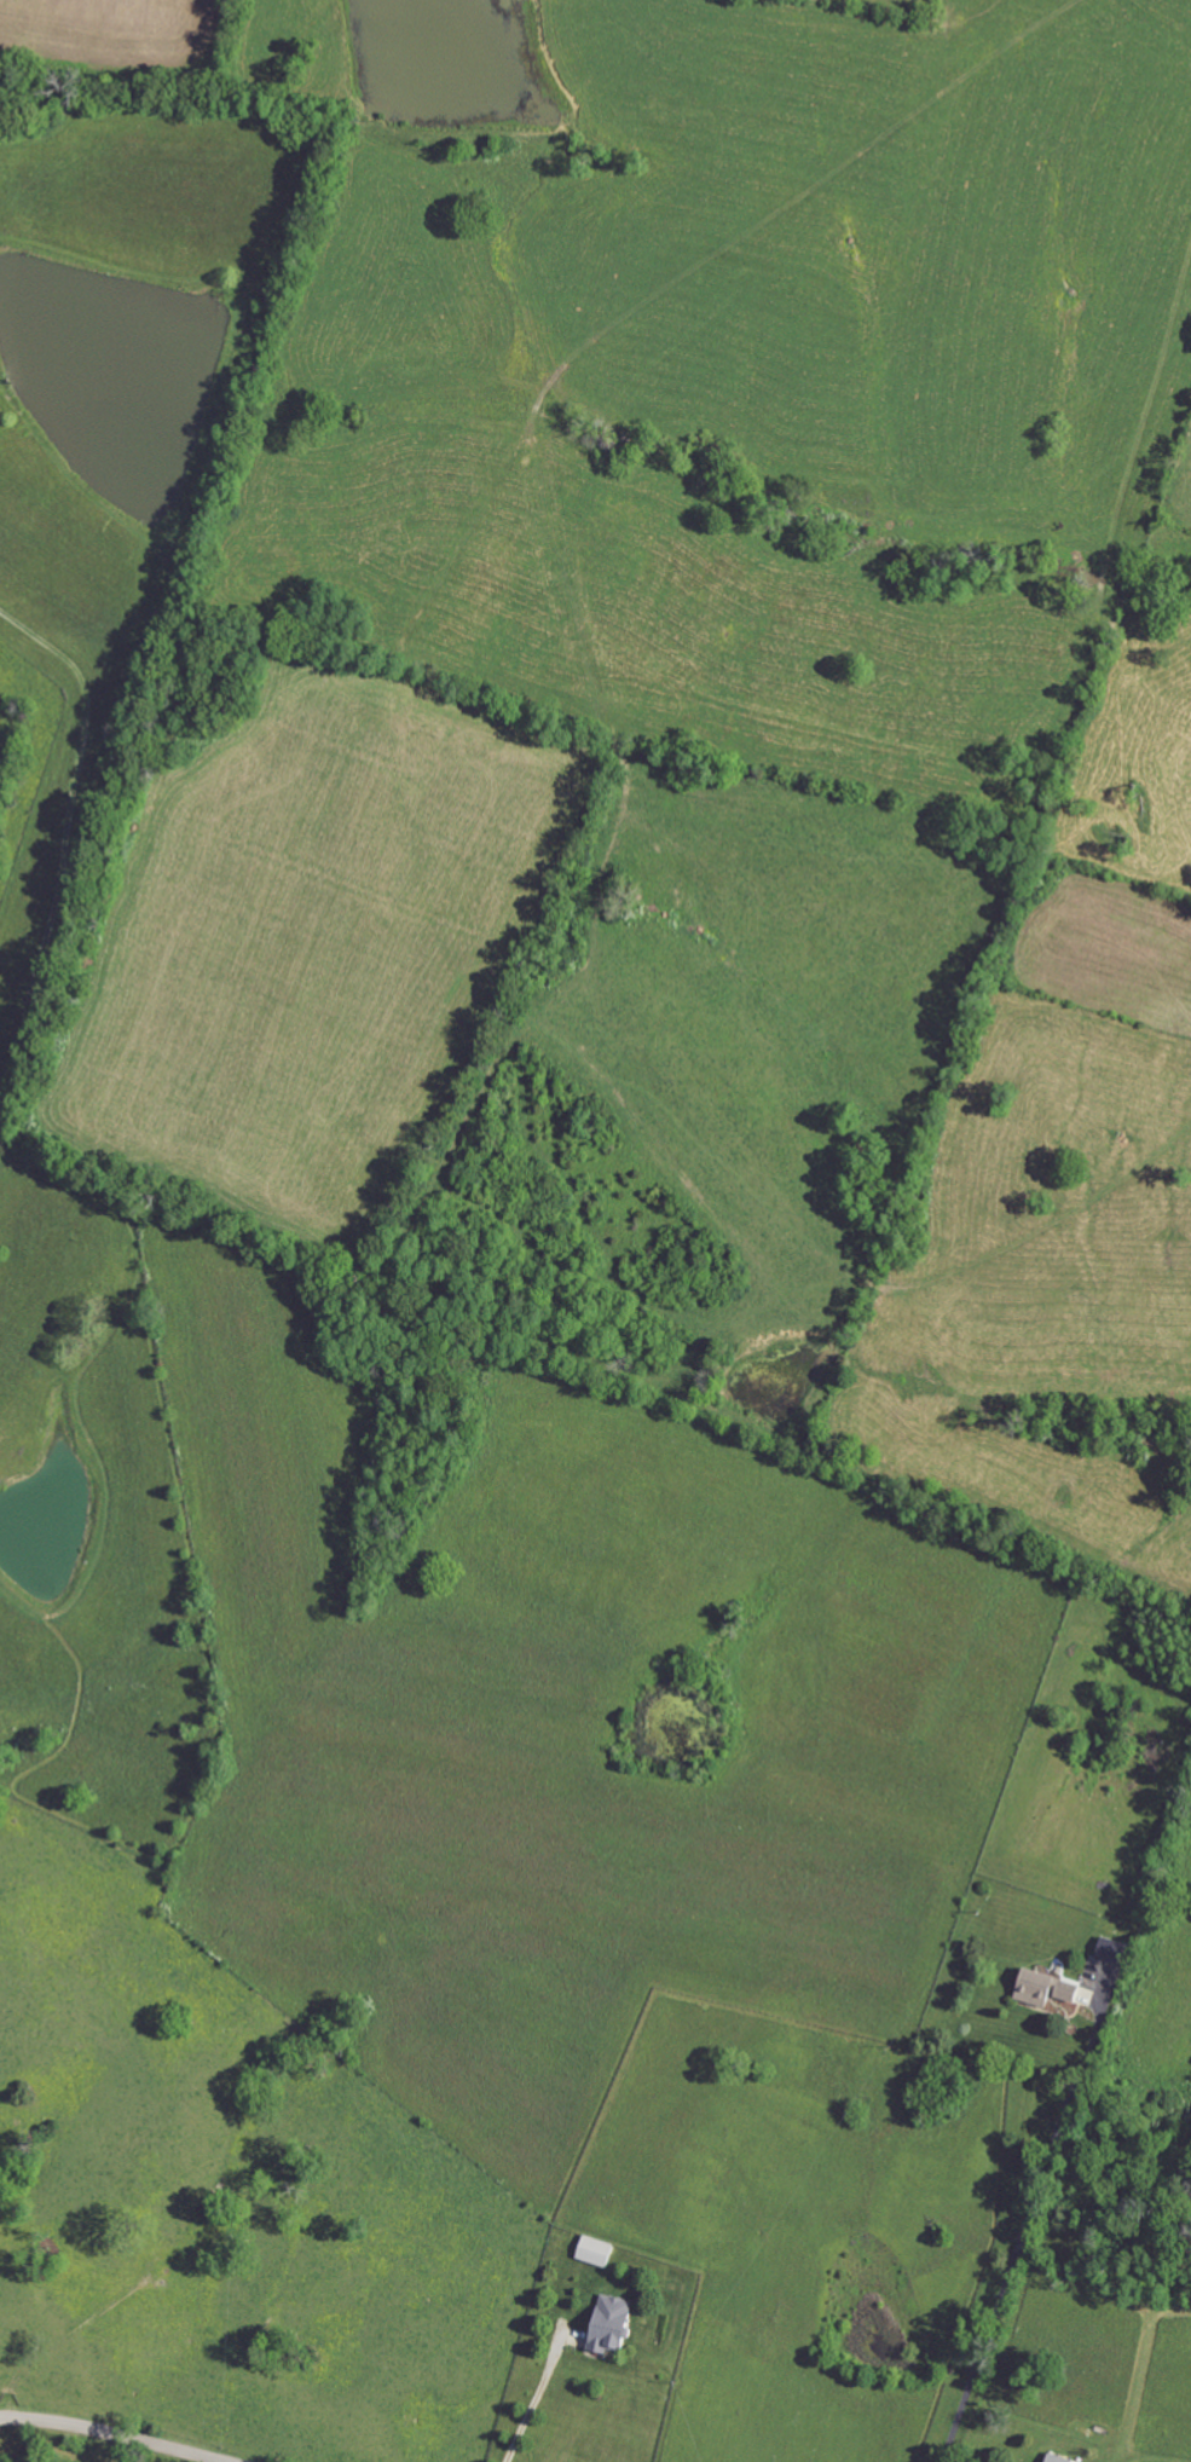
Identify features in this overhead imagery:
road: (1023, 2225)
building: (613, 2324)
road: (536, 2399)
road: (112, 2434)
building: (1058, 2458)

